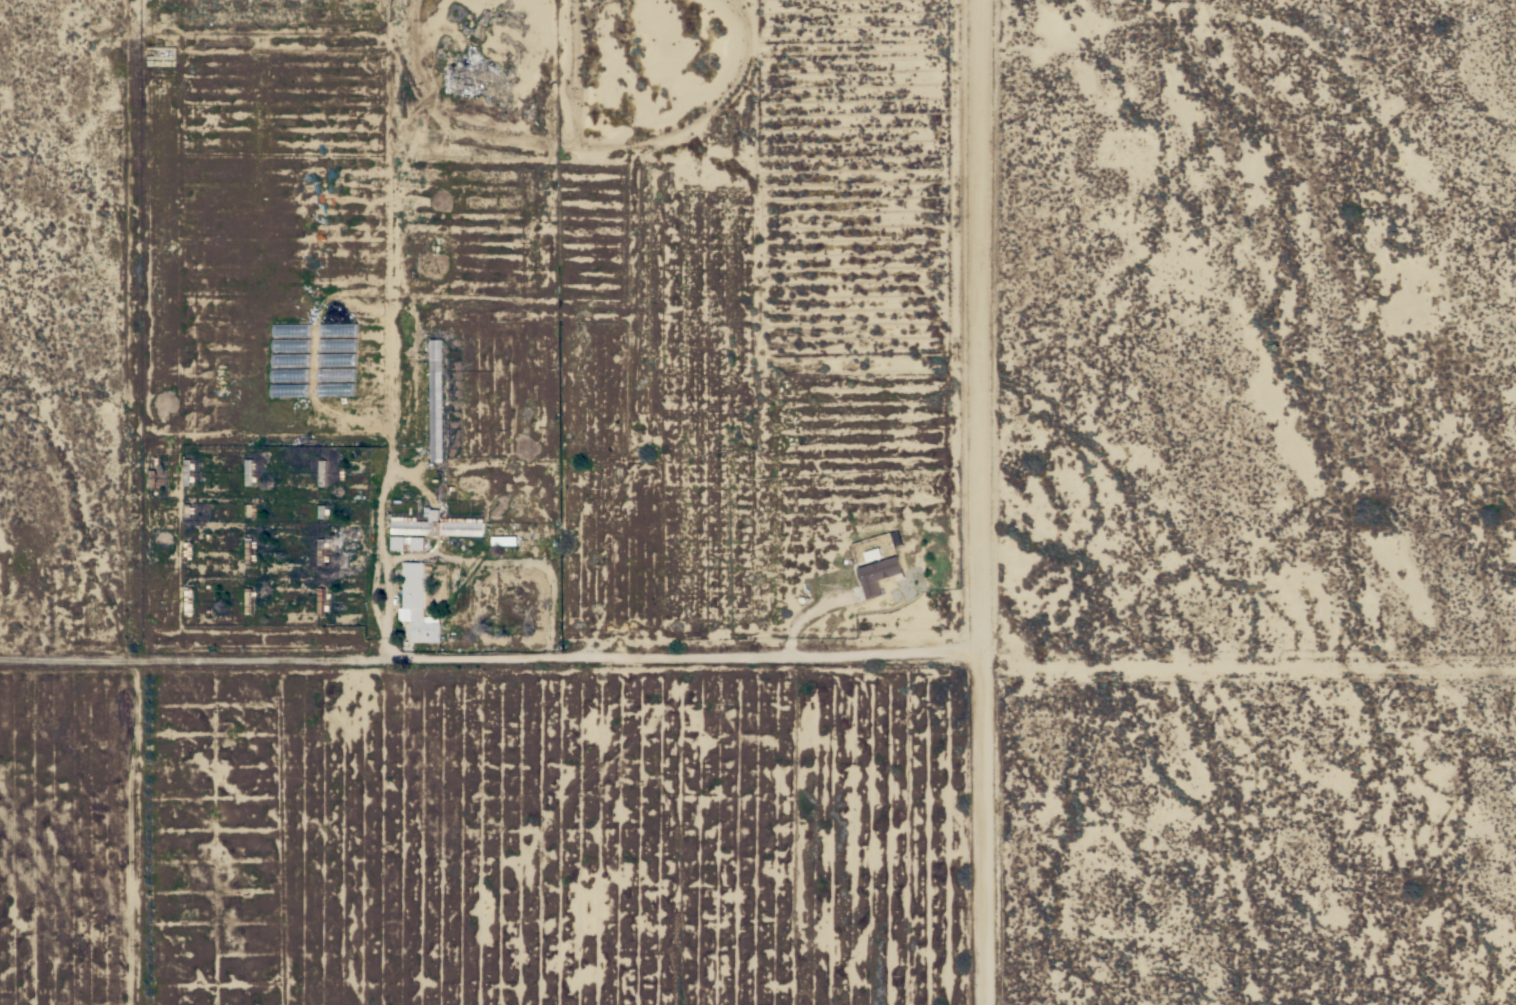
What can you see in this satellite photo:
building: (435, 401)
building: (187, 472)
building: (249, 472)
building: (322, 472)
building: (151, 479)
road: (983, 502)
building: (436, 526)
building: (504, 540)
building: (409, 543)
building: (187, 550)
building: (249, 550)
building: (321, 552)
road: (373, 569)
building: (877, 575)
building: (248, 600)
building: (321, 601)
building: (187, 602)
building: (418, 605)
road: (720, 654)
road: (228, 657)

